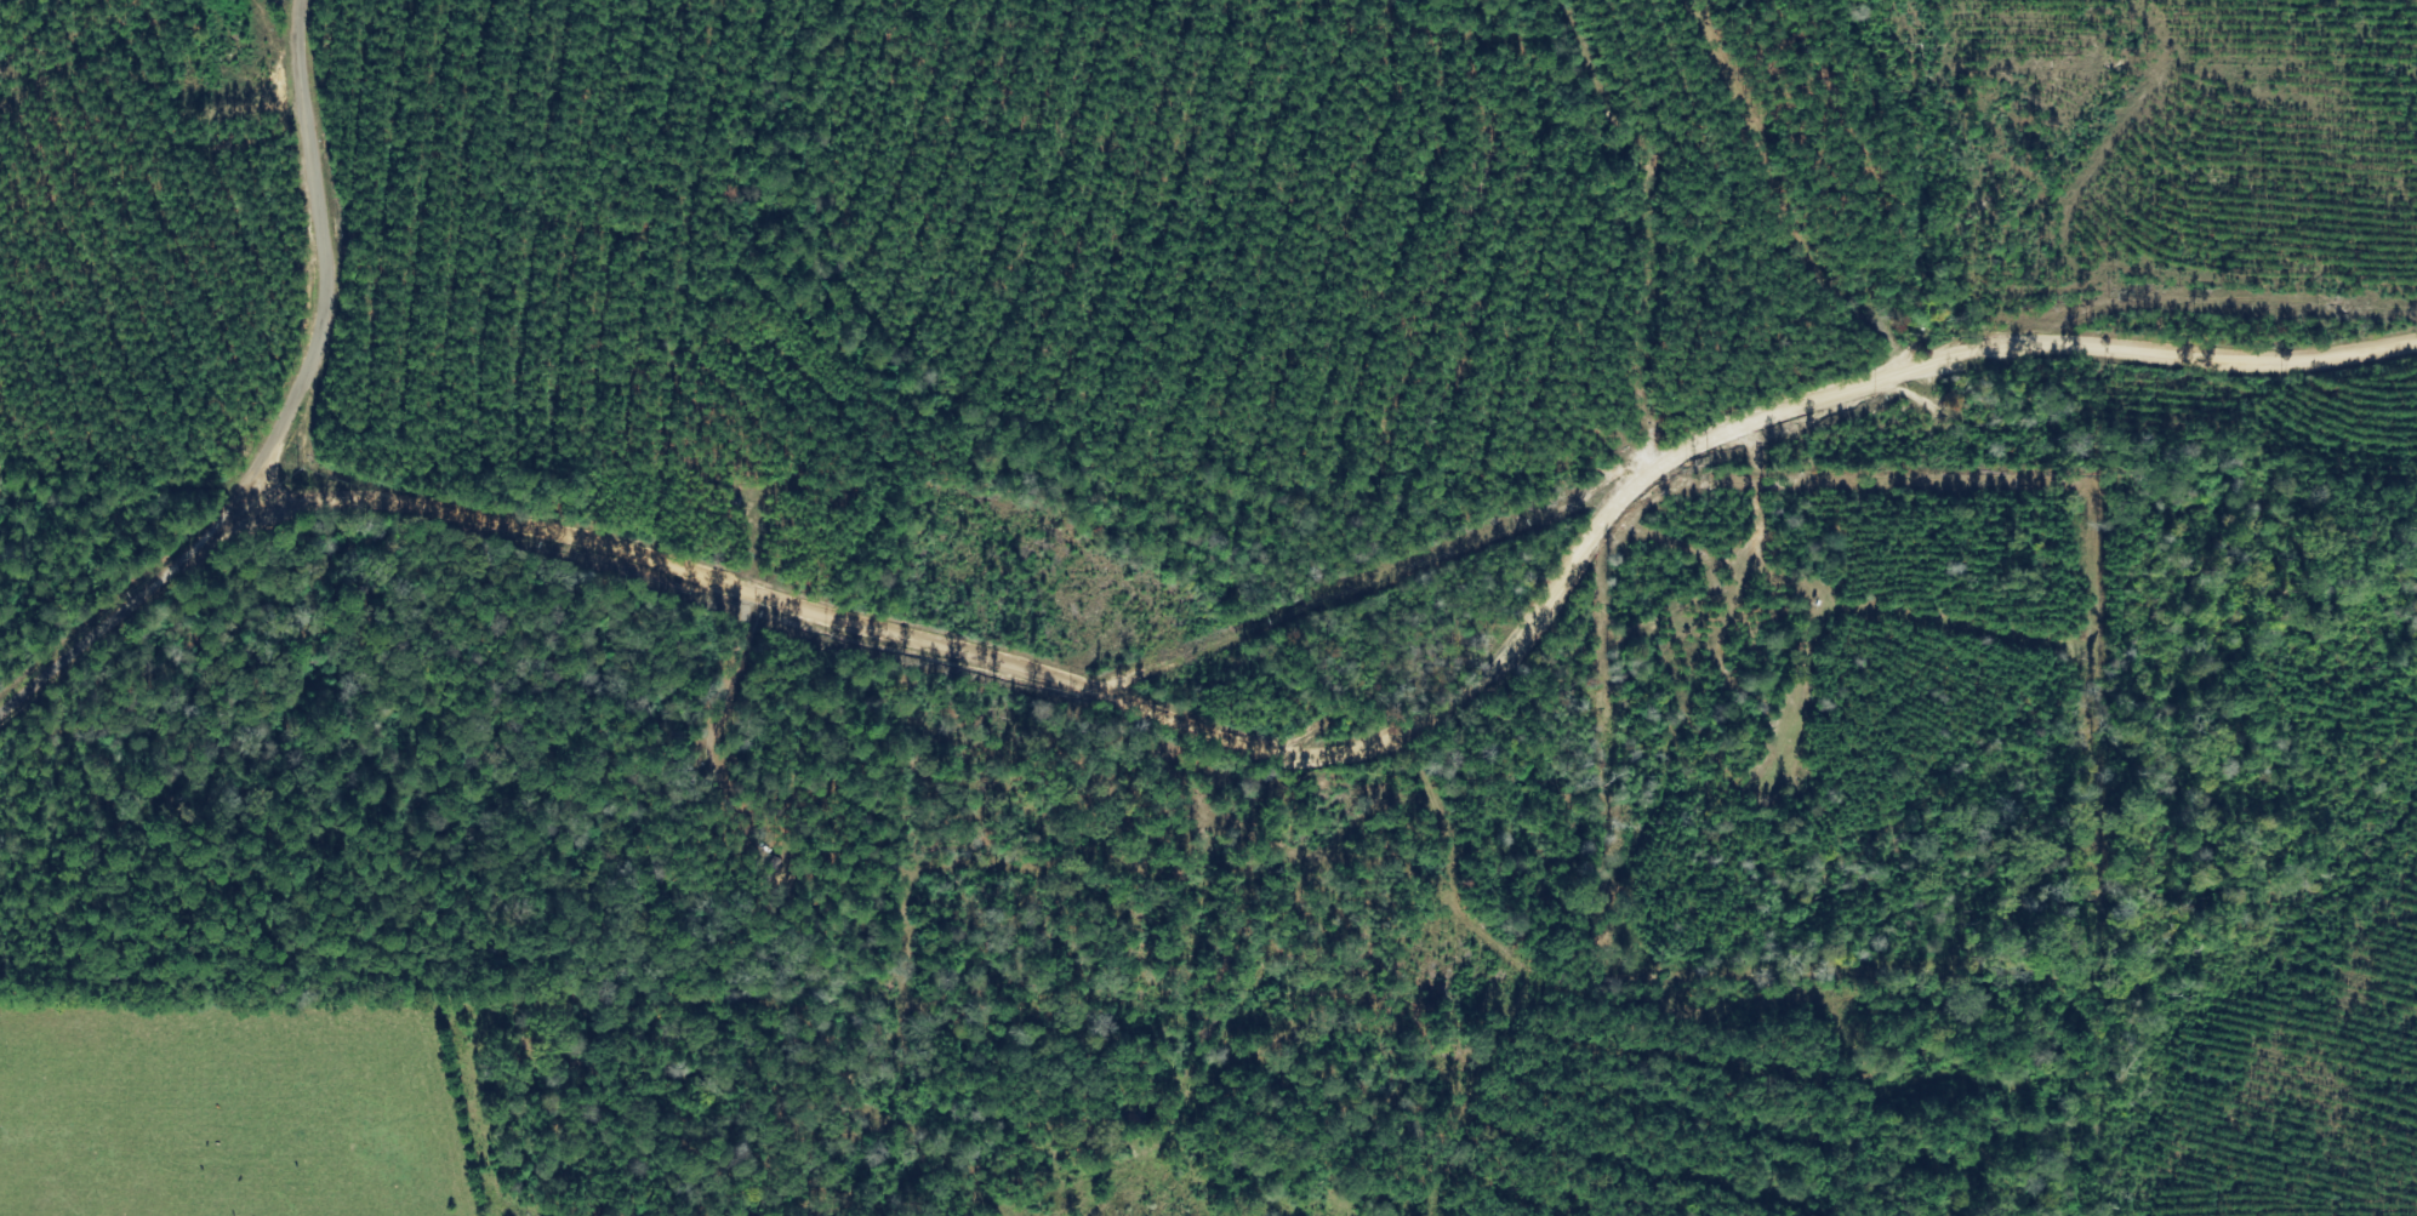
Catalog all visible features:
road: (277, 406)
road: (1395, 727)

